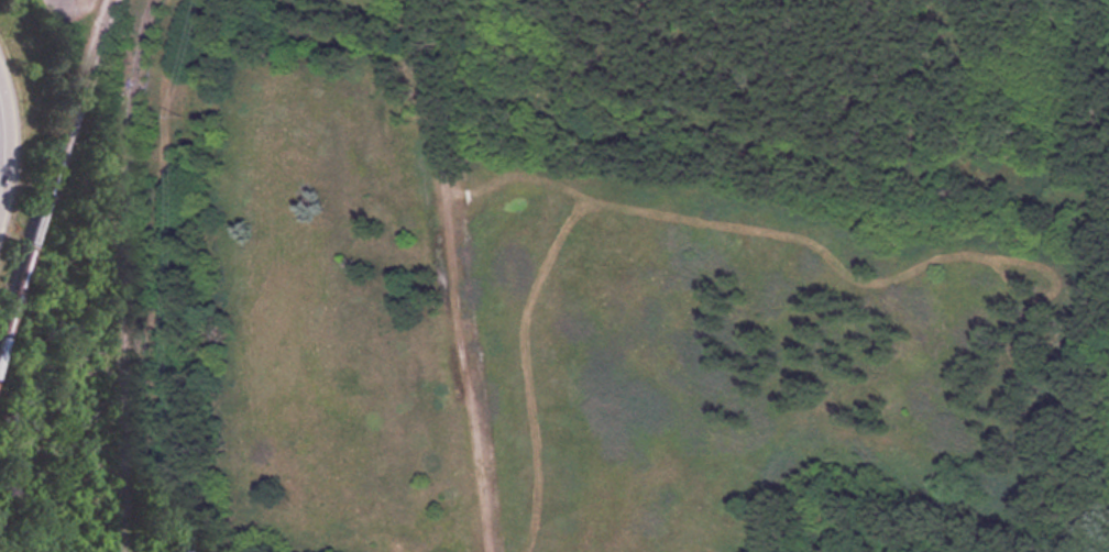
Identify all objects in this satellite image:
road: (9, 143)
railway: (53, 178)
railway: (127, 274)

